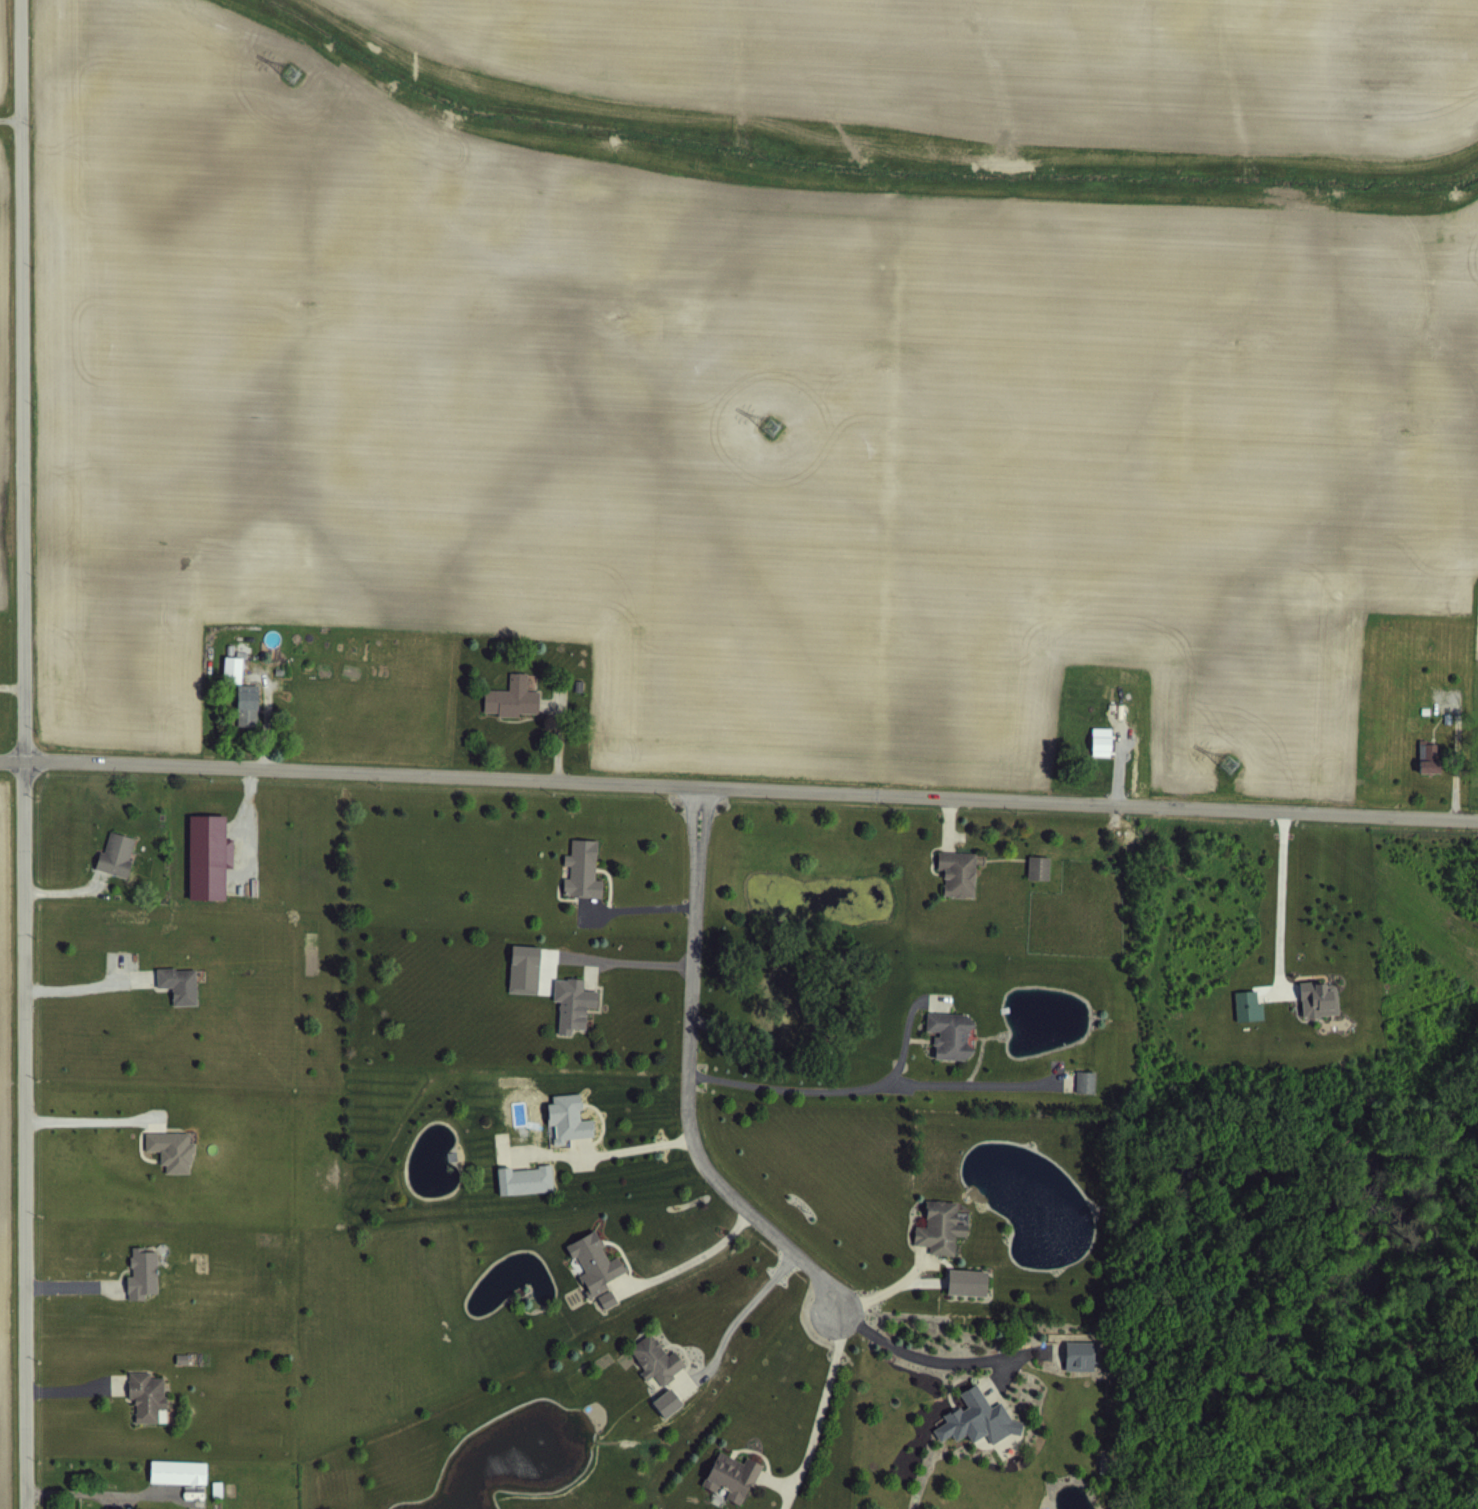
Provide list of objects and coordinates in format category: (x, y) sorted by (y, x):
power tower: (275, 63)
road: (10, 116)
power tower: (765, 424)
building: (230, 668)
road: (12, 679)
building: (245, 704)
road: (25, 754)
building: (1104, 759)
road: (13, 760)
power tower: (1237, 764)
building: (1431, 774)
road: (752, 786)
building: (114, 852)
building: (206, 855)
building: (577, 870)
building: (1041, 885)
building: (960, 891)
road: (1278, 898)
road: (639, 962)
building: (177, 982)
road: (82, 985)
building: (1320, 1017)
building: (1250, 1024)
building: (953, 1053)
road: (692, 1074)
road: (844, 1087)
building: (1088, 1100)
road: (90, 1119)
road: (634, 1147)
building: (170, 1150)
building: (942, 1245)
road: (690, 1258)
building: (141, 1271)
road: (882, 1287)
building: (968, 1300)
road: (737, 1314)
road: (915, 1355)
building: (1082, 1374)
building: (145, 1397)
road: (821, 1402)
building: (981, 1437)
building: (180, 1476)
road: (101, 1492)

